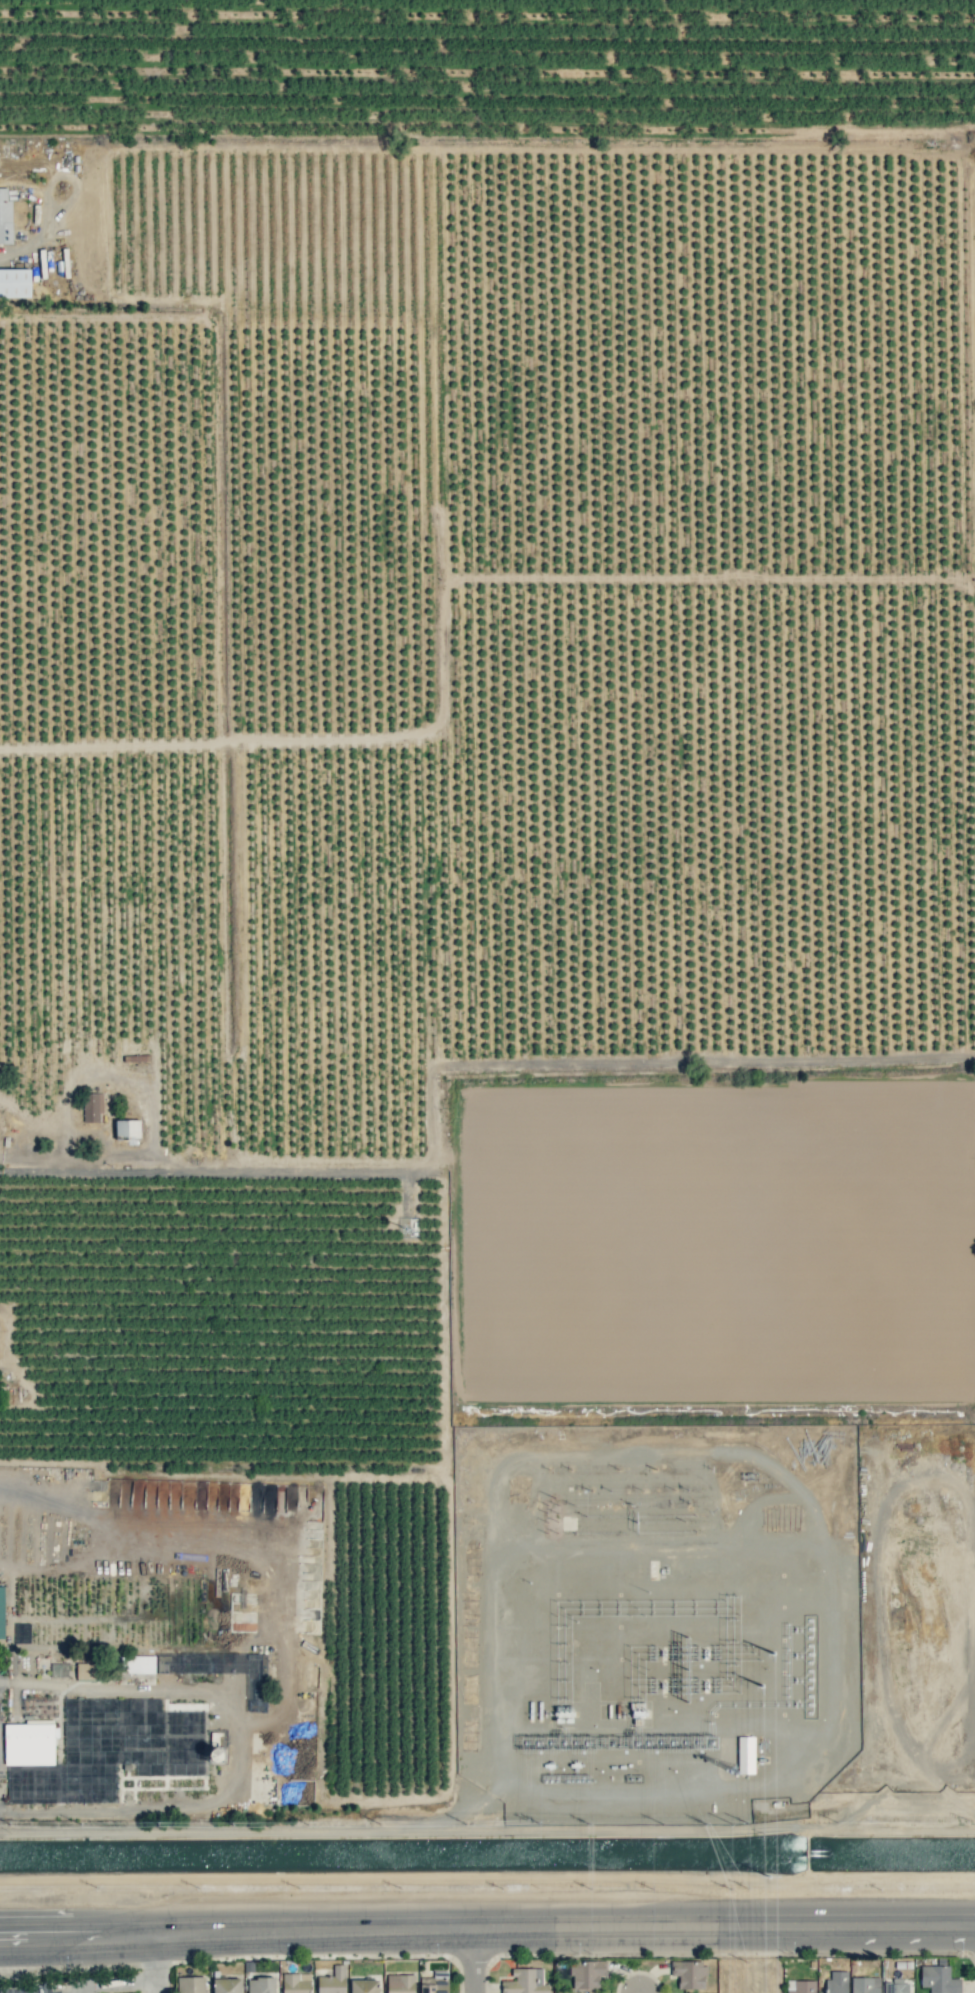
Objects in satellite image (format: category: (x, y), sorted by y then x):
building: (5, 217)
building: (15, 283)
crop: (491, 814)
building: (92, 1107)
building: (128, 1130)
road: (70, 1160)
building: (1, 1612)
power substation: (657, 1617)
building: (22, 1632)
power tower: (776, 1654)
building: (178, 1663)
building: (139, 1664)
building: (86, 1670)
power tower: (766, 1687)
building: (30, 1742)
building: (745, 1754)
power tower: (771, 1878)
road: (492, 1926)
road: (5, 1934)
road: (5, 1938)
road: (5, 1941)
road: (477, 1960)
building: (586, 1973)
building: (689, 1973)
building: (939, 1979)
building: (333, 1981)
building: (525, 1981)
building: (837, 1982)
road: (135, 1983)
building: (296, 1983)
building: (400, 1983)
building: (435, 1983)
building: (191, 1984)
building: (227, 1985)
building: (261, 1985)
building: (865, 1985)
building: (364, 1986)
building: (800, 1986)
building: (895, 1986)
road: (155, 1988)

